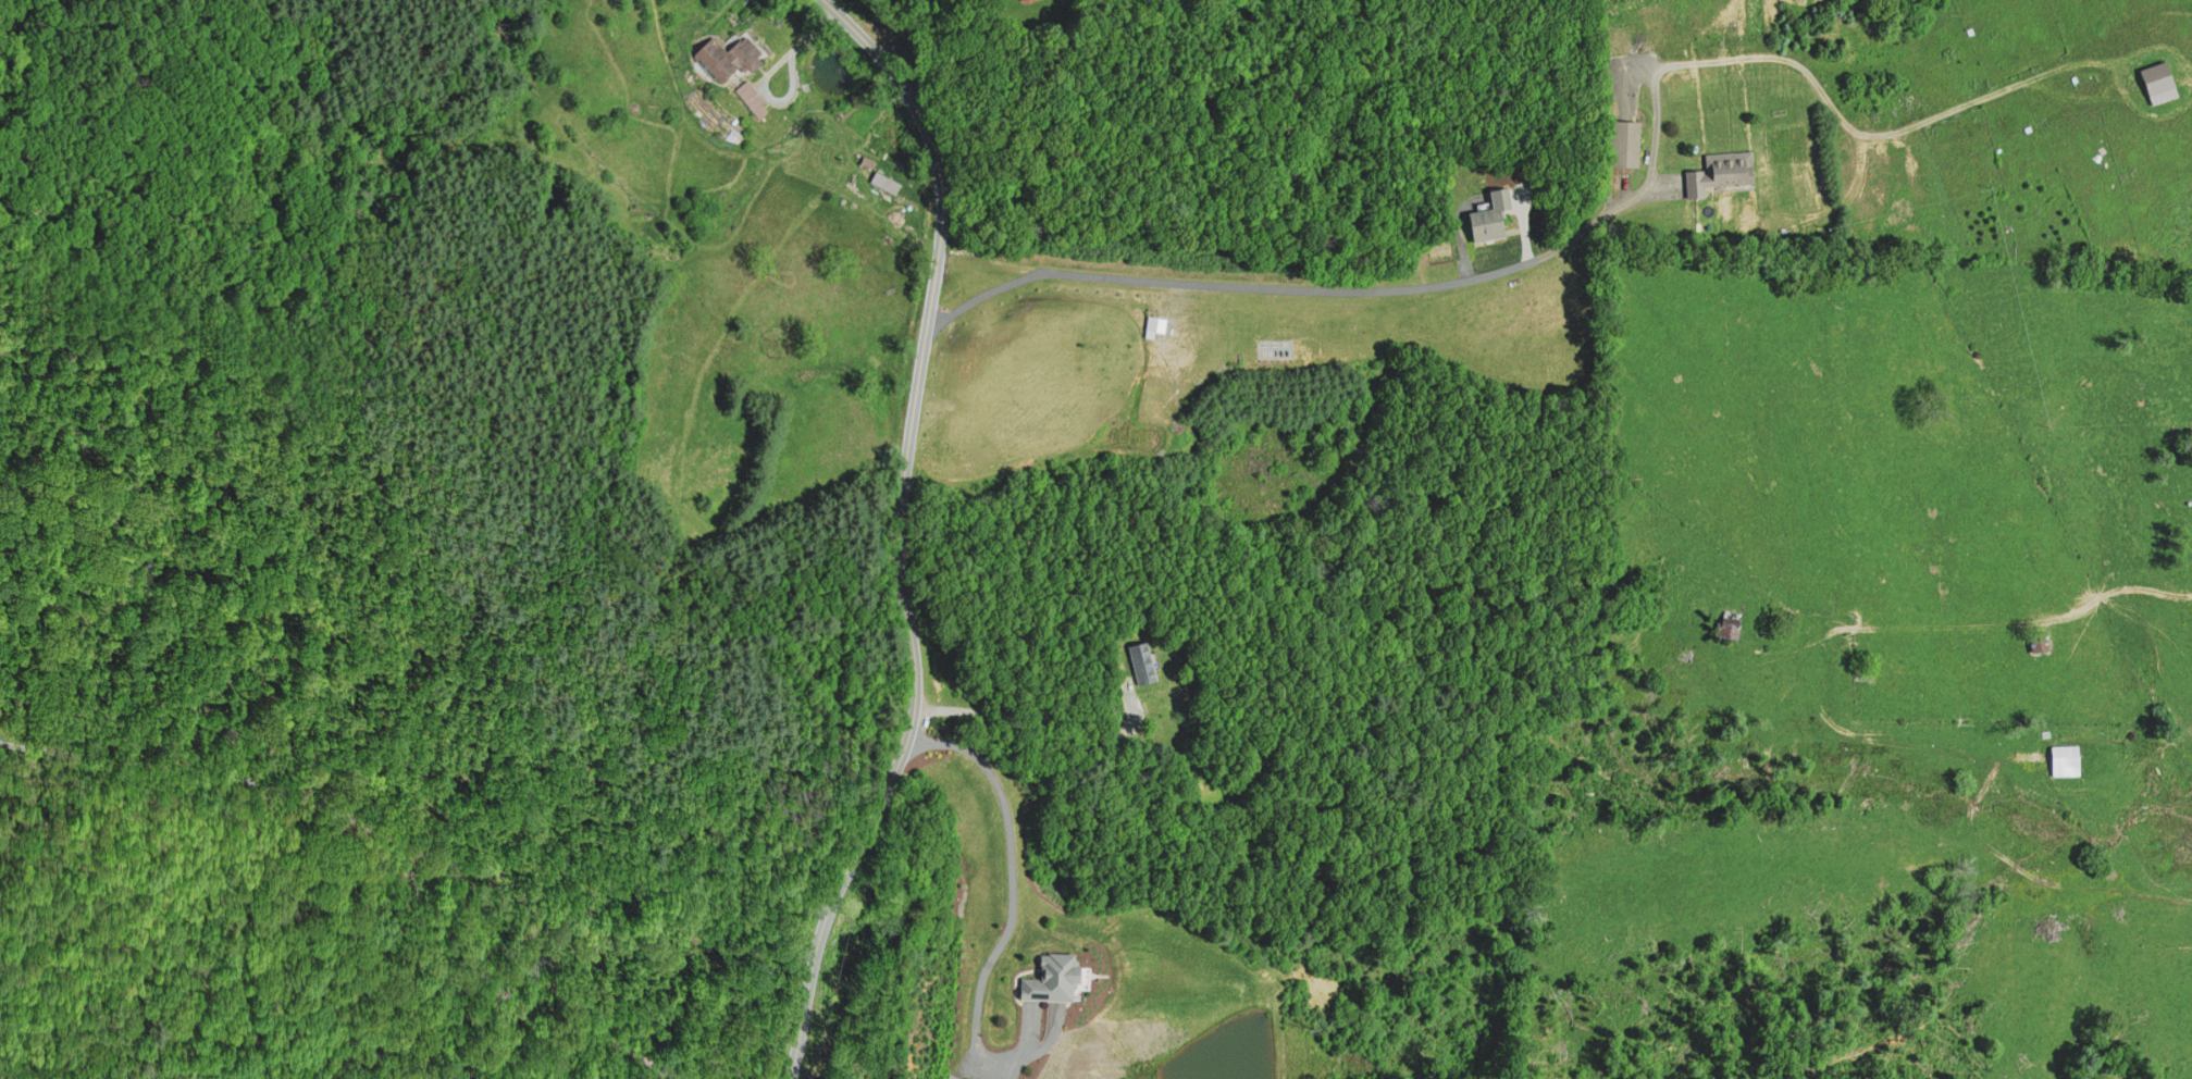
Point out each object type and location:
building: (1023, 0)
building: (727, 54)
building: (2163, 80)
building: (752, 100)
building: (1624, 142)
building: (868, 160)
building: (1723, 171)
building: (886, 179)
building: (1493, 215)
road: (1291, 286)
building: (1155, 324)
building: (1222, 336)
road: (900, 531)
building: (1730, 622)
building: (2044, 641)
building: (1144, 660)
building: (2070, 760)
park: (260, 945)
building: (1056, 978)
building: (954, 1076)
building: (973, 1077)

